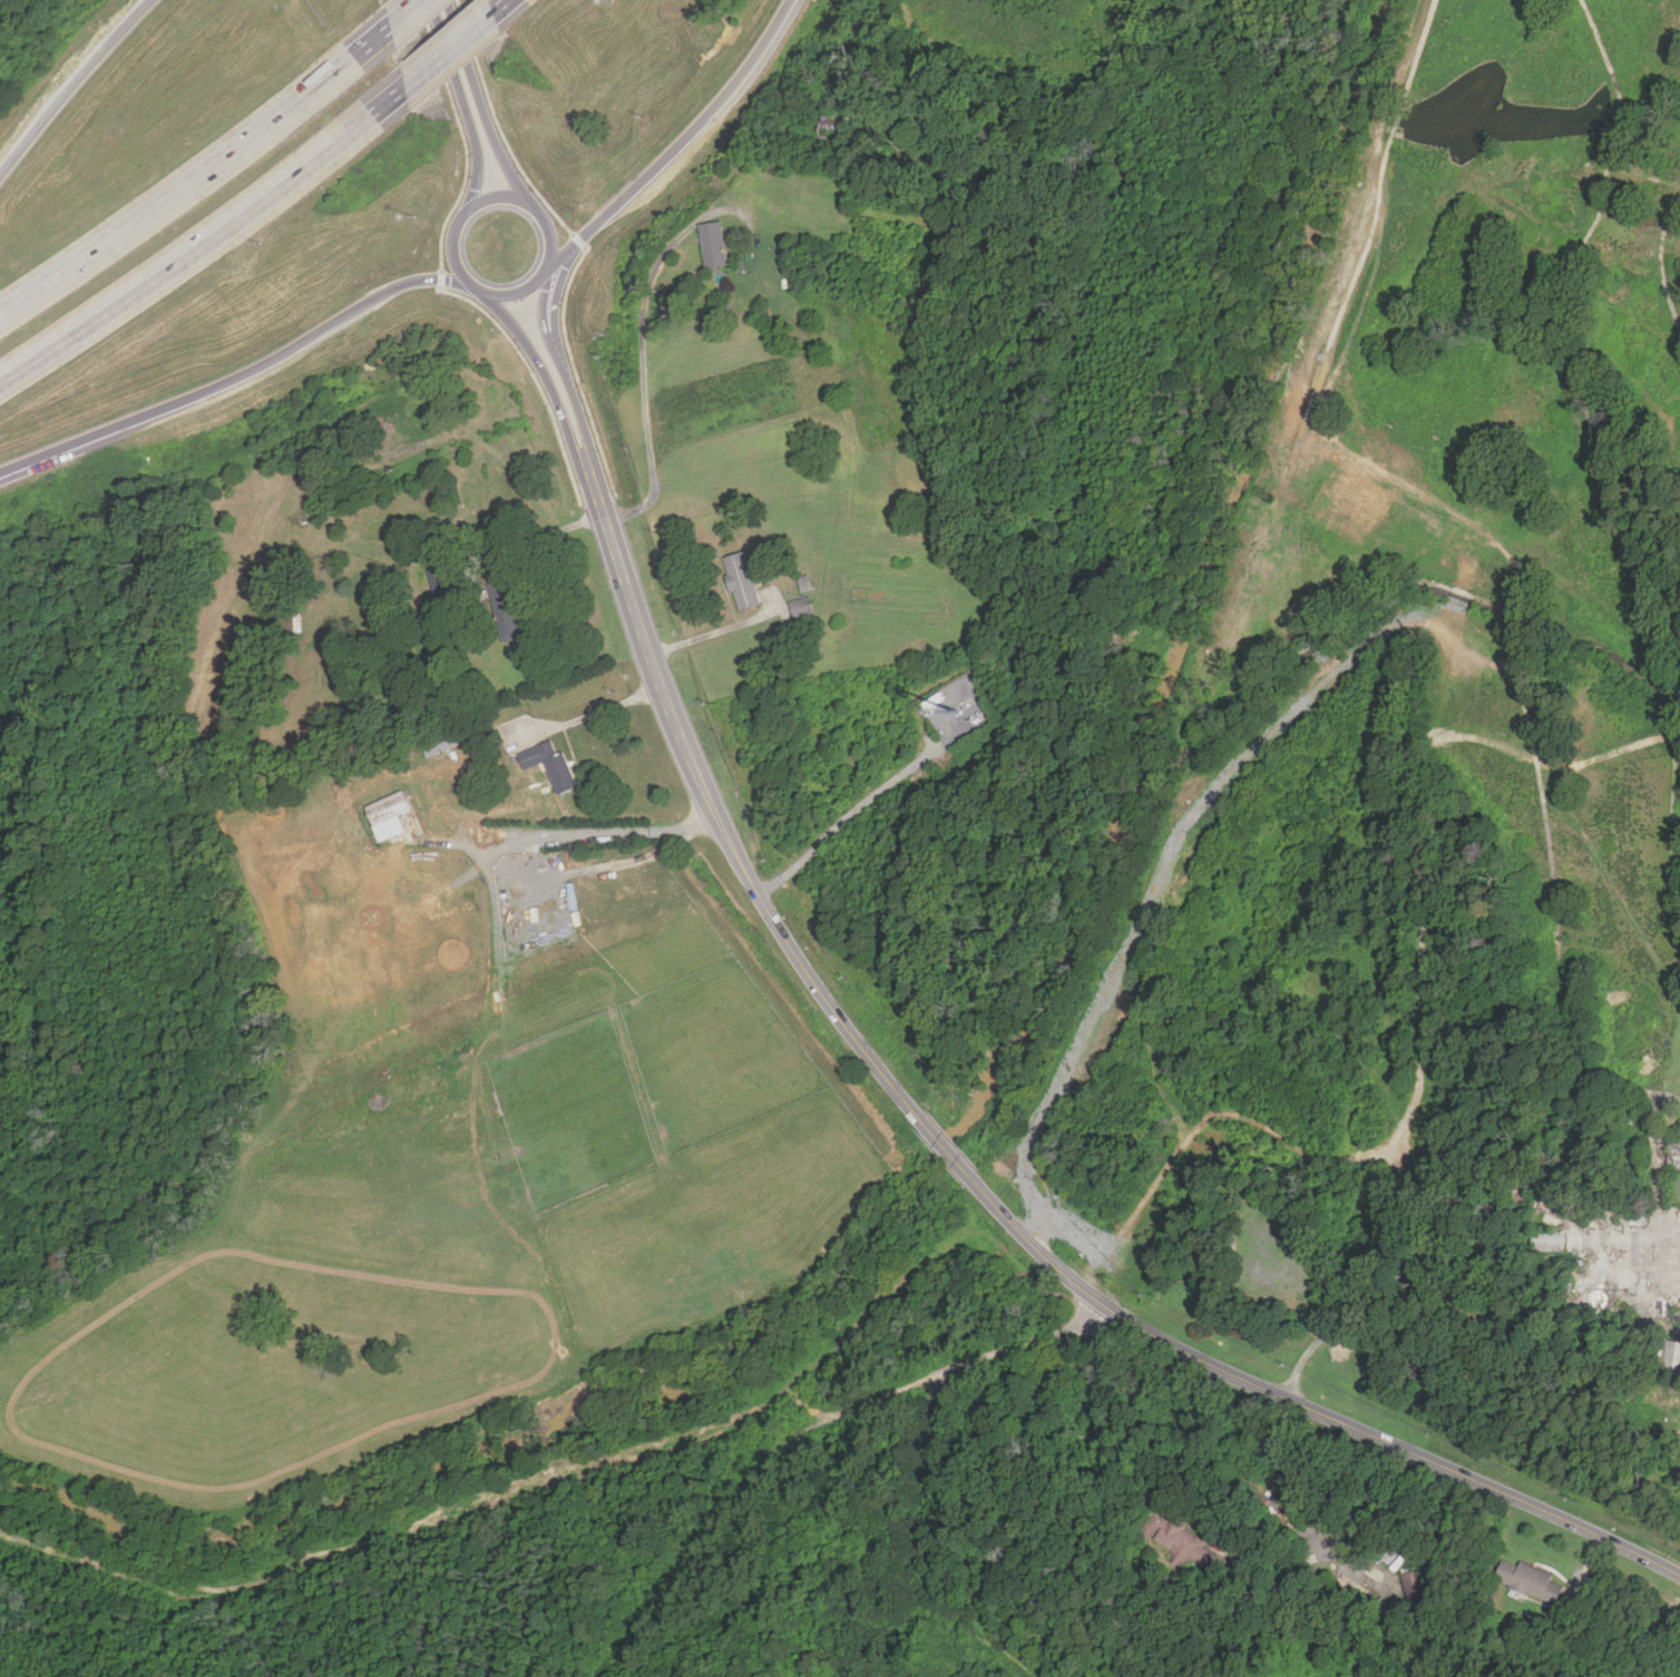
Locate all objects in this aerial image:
road: (506, 2)
road: (404, 17)
road: (452, 36)
road: (451, 49)
road: (468, 78)
road: (76, 85)
building: (832, 129)
road: (683, 143)
road: (196, 182)
road: (471, 209)
road: (204, 244)
building: (713, 244)
road: (550, 298)
road: (545, 367)
road: (236, 373)
road: (645, 373)
road: (573, 388)
road: (540, 537)
building: (742, 580)
building: (802, 607)
building: (506, 614)
building: (293, 622)
road: (719, 631)
road: (588, 715)
building: (441, 742)
building: (550, 765)
road: (716, 805)
building: (388, 808)
road: (843, 820)
road: (949, 1153)
building: (1269, 1252)
building: (1672, 1355)
road: (1309, 1408)
building: (1181, 1540)
road: (1339, 1540)
building: (1531, 1580)
building: (1417, 1589)

